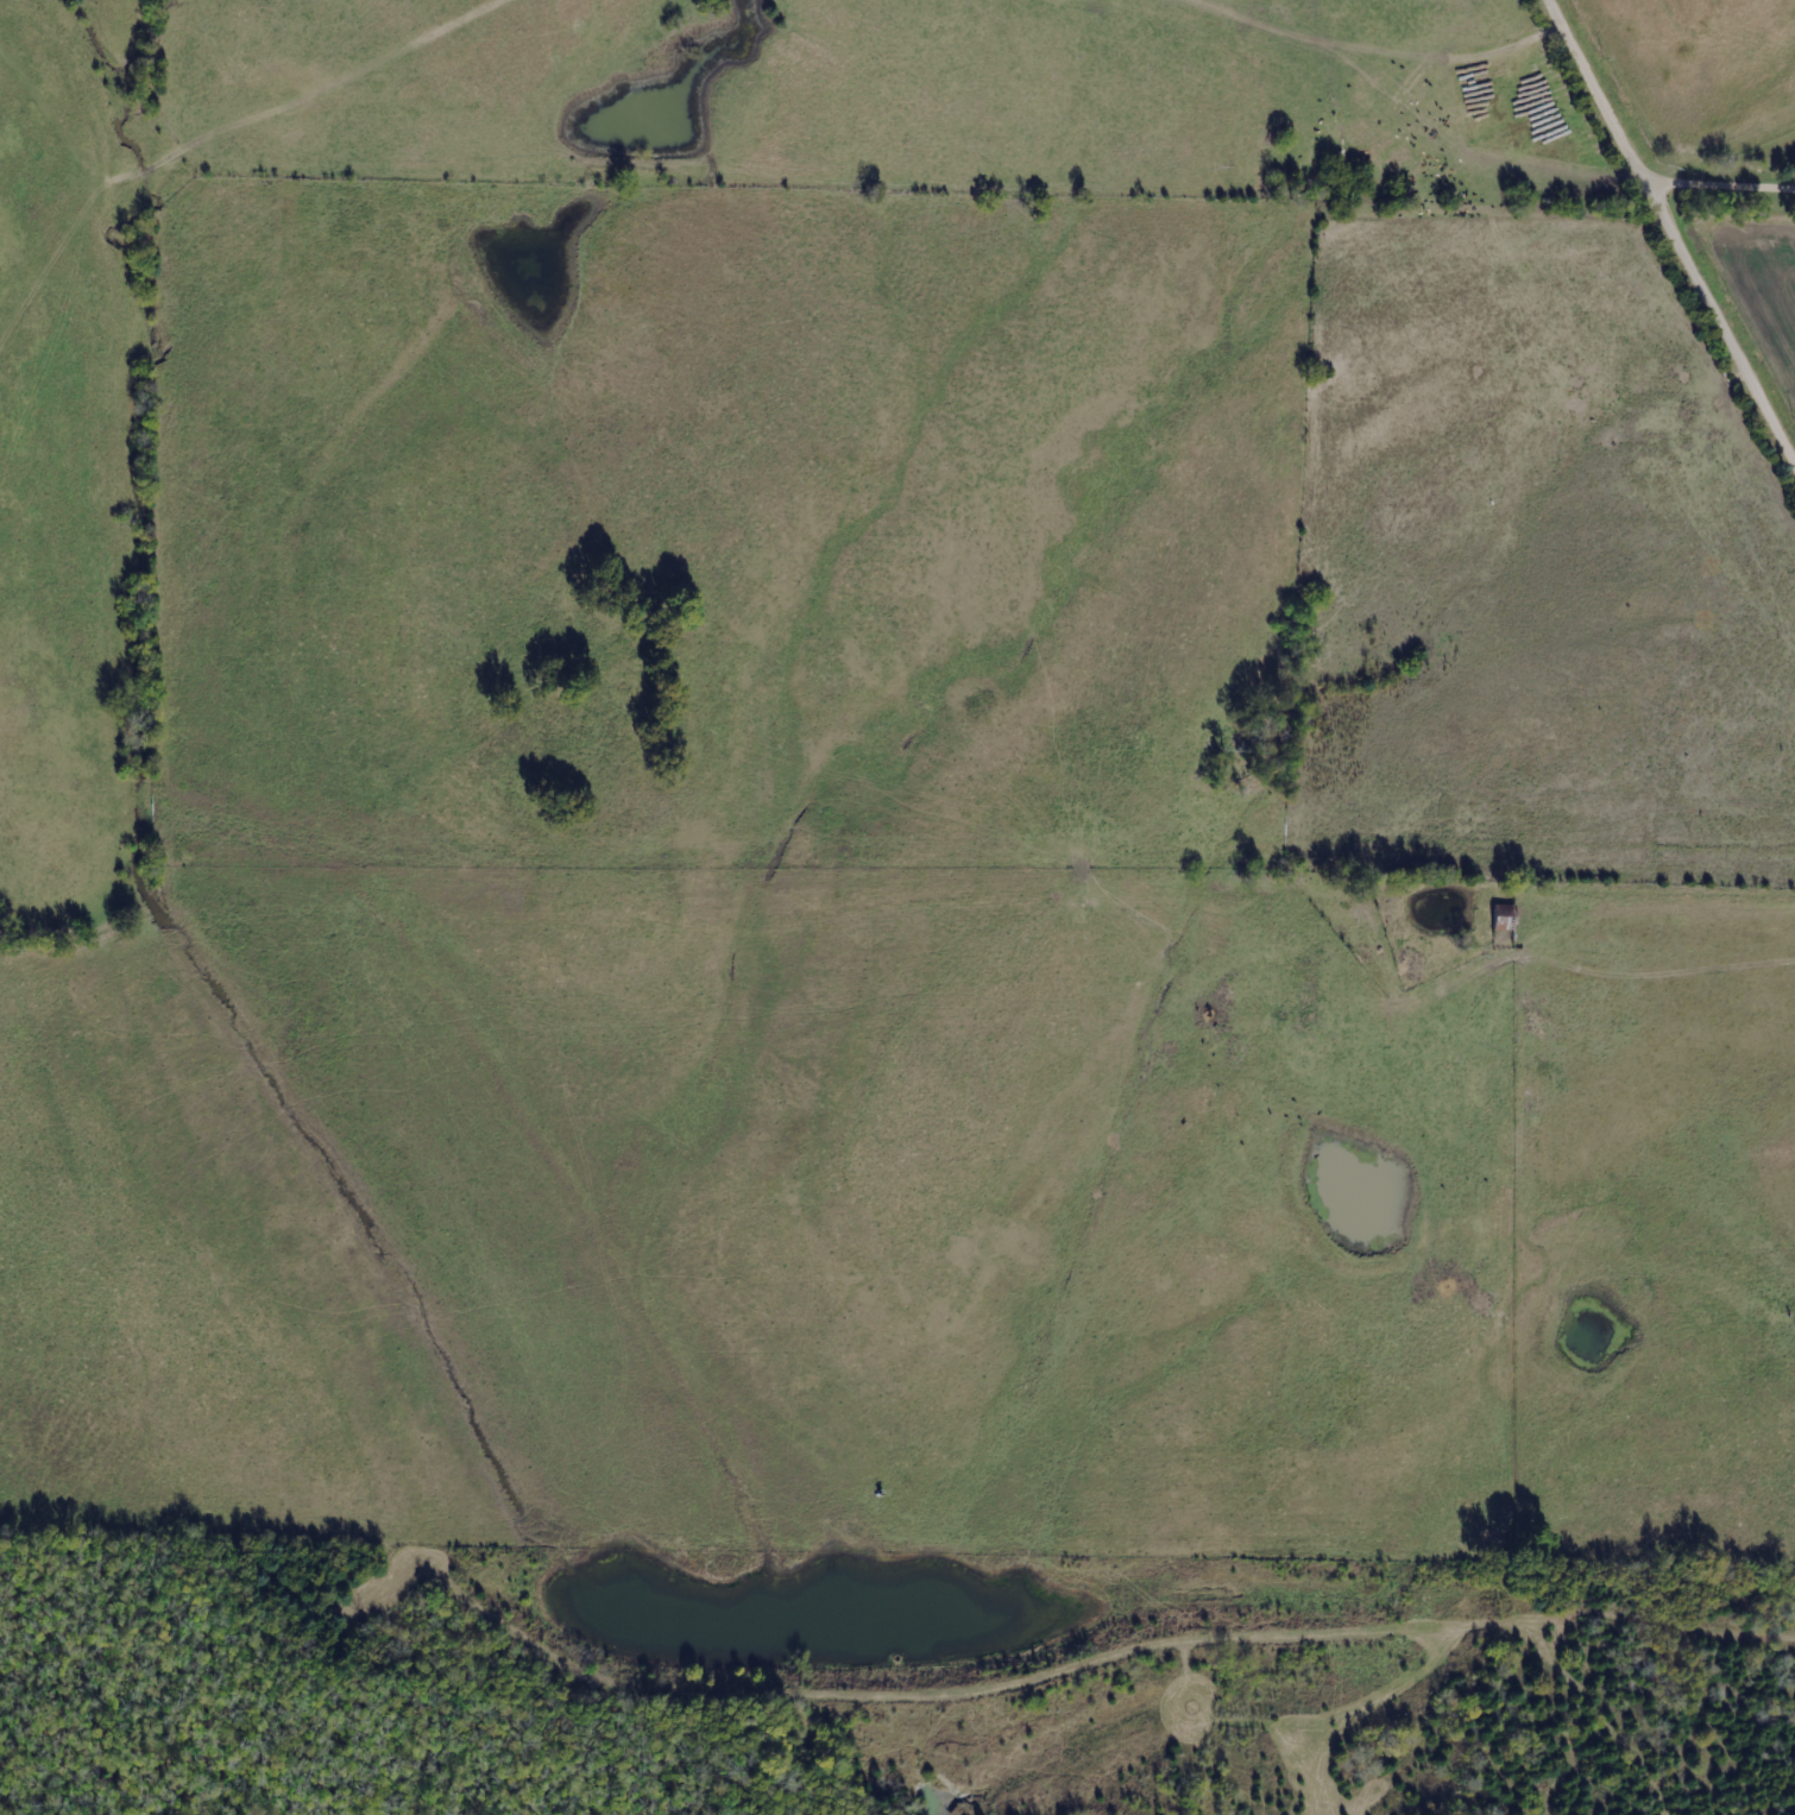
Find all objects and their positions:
road: (1673, 225)
building: (1503, 918)

